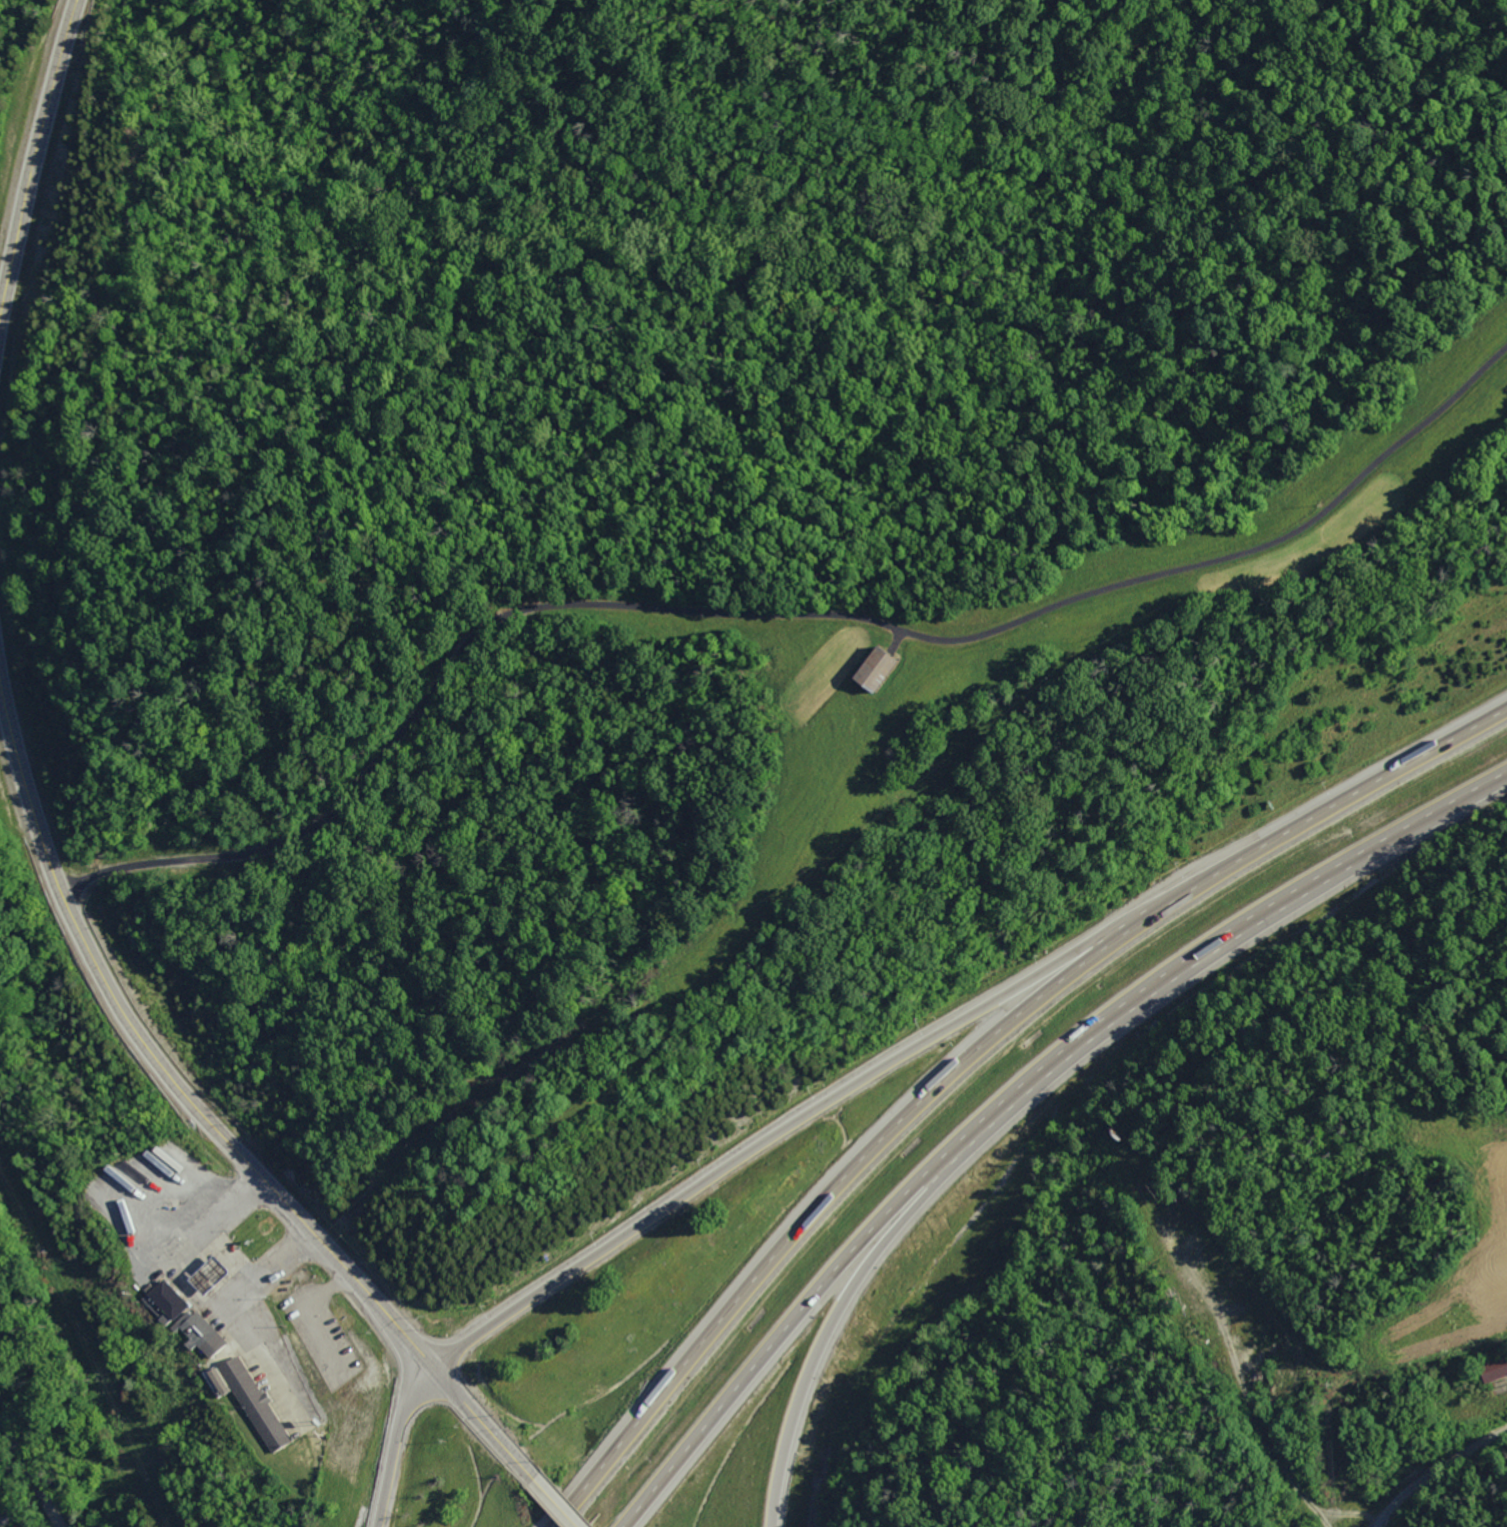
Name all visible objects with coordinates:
road: (34, 152)
building: (870, 668)
road: (973, 1051)
road: (1019, 1095)
road: (804, 1113)
road: (1003, 1120)
road: (209, 1121)
road: (415, 1150)
road: (266, 1269)
road: (198, 1291)
building: (165, 1302)
building: (201, 1333)
building: (249, 1400)
road: (395, 1440)
road: (1434, 1472)
road: (29, 1475)
road: (555, 1500)

